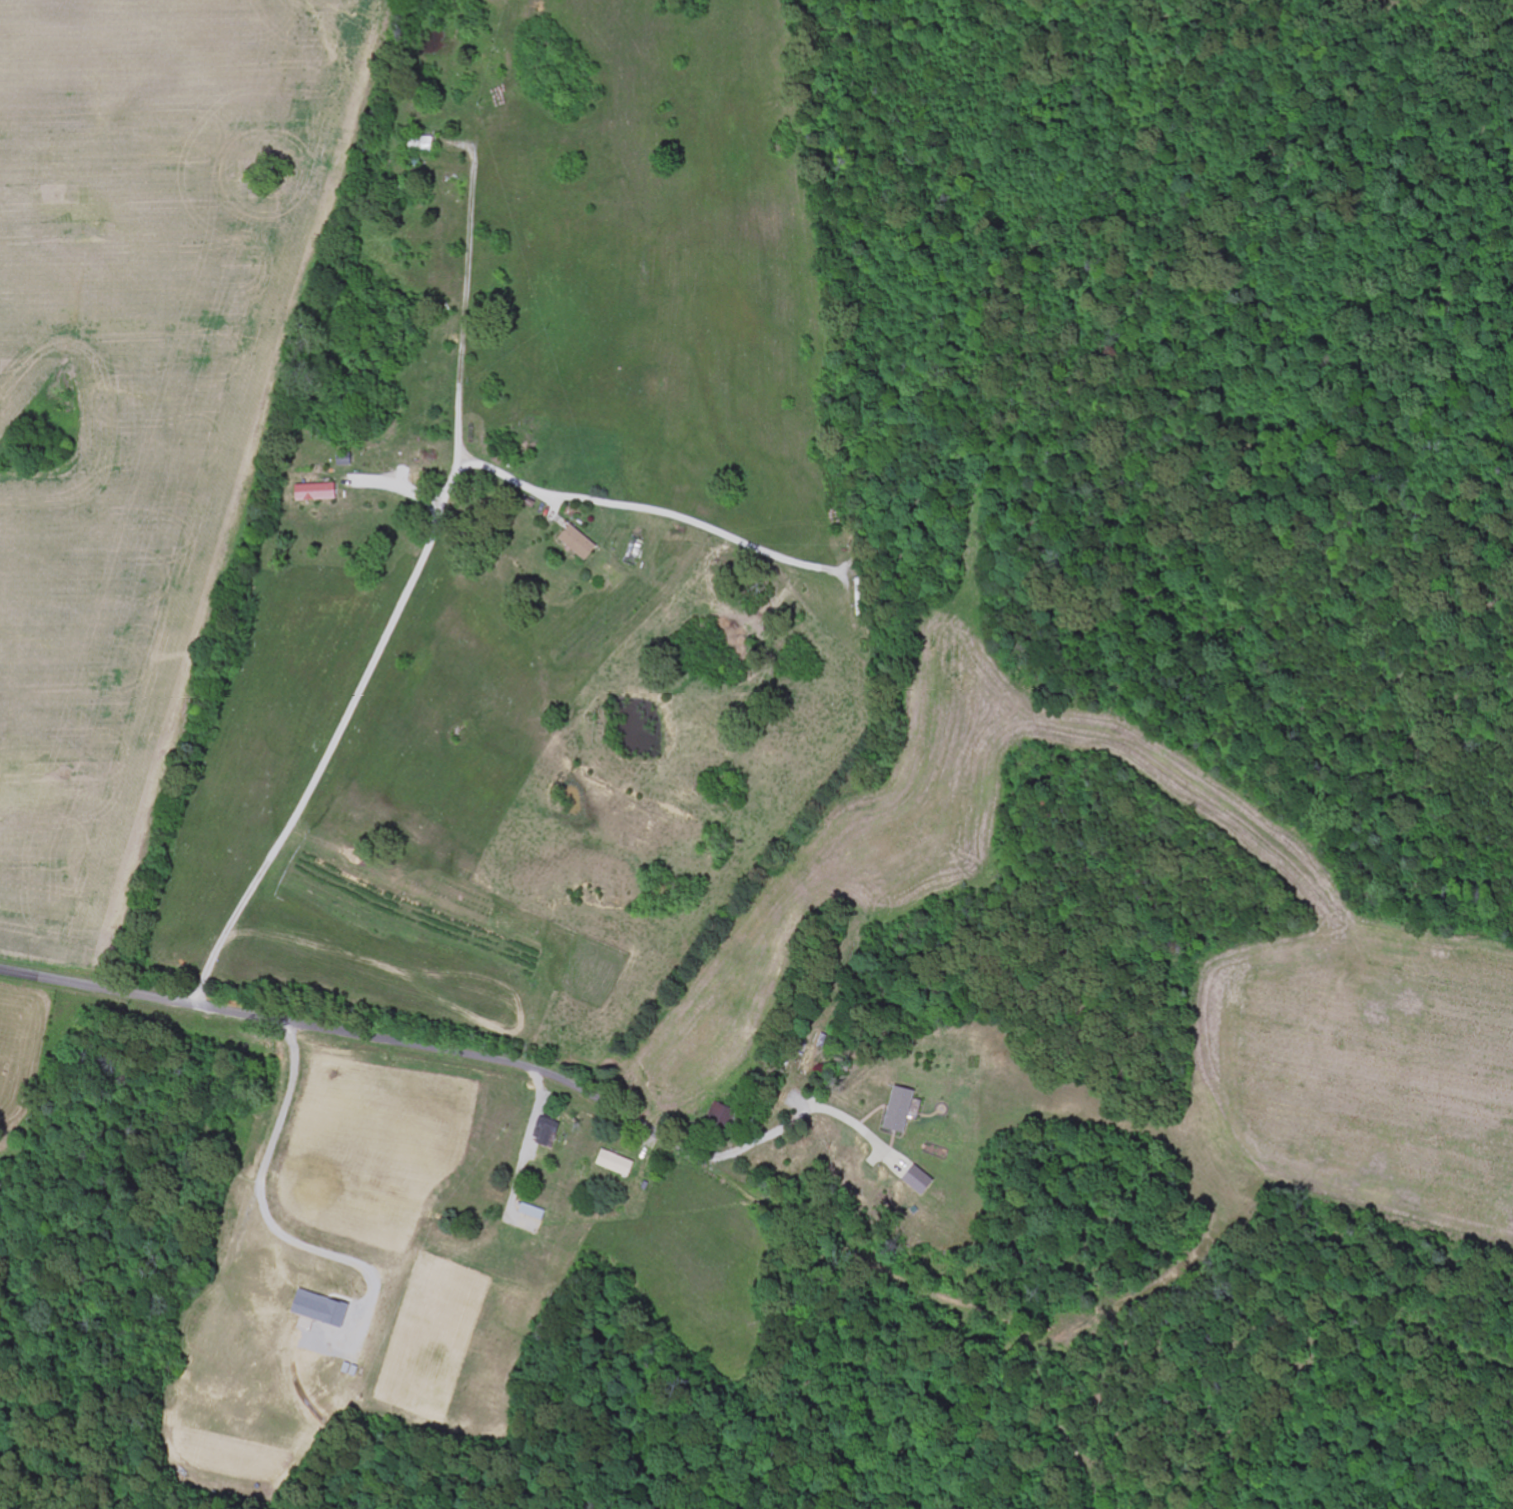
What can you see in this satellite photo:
building: (318, 492)
building: (580, 542)
road: (398, 614)
road: (356, 1035)
building: (902, 1109)
building: (548, 1134)
building: (618, 1163)
building: (921, 1180)
building: (322, 1309)

